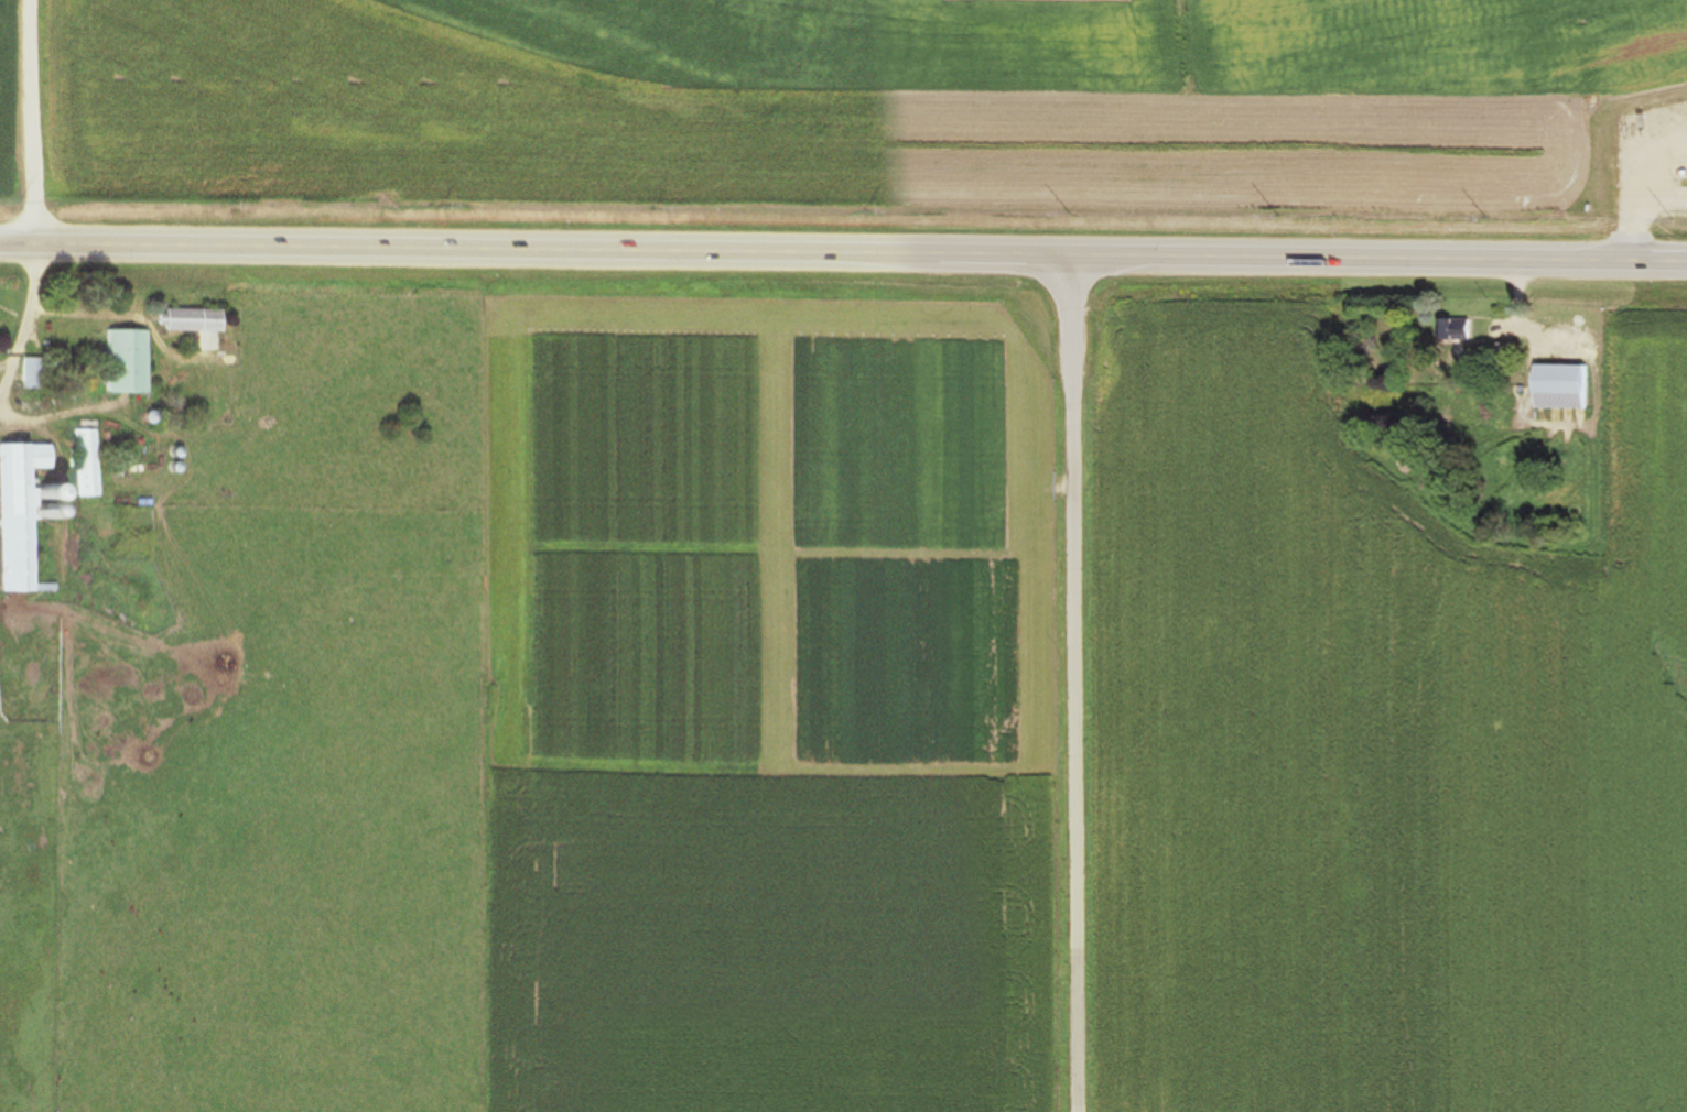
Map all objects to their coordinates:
building: (1681, 116)
road: (34, 119)
road: (843, 252)
road: (25, 303)
road: (106, 314)
building: (185, 320)
building: (1453, 330)
building: (1505, 355)
building: (120, 362)
road: (3, 366)
building: (29, 375)
road: (3, 377)
building: (1558, 389)
road: (51, 417)
building: (82, 465)
building: (19, 510)
building: (39, 588)
road: (1074, 684)

